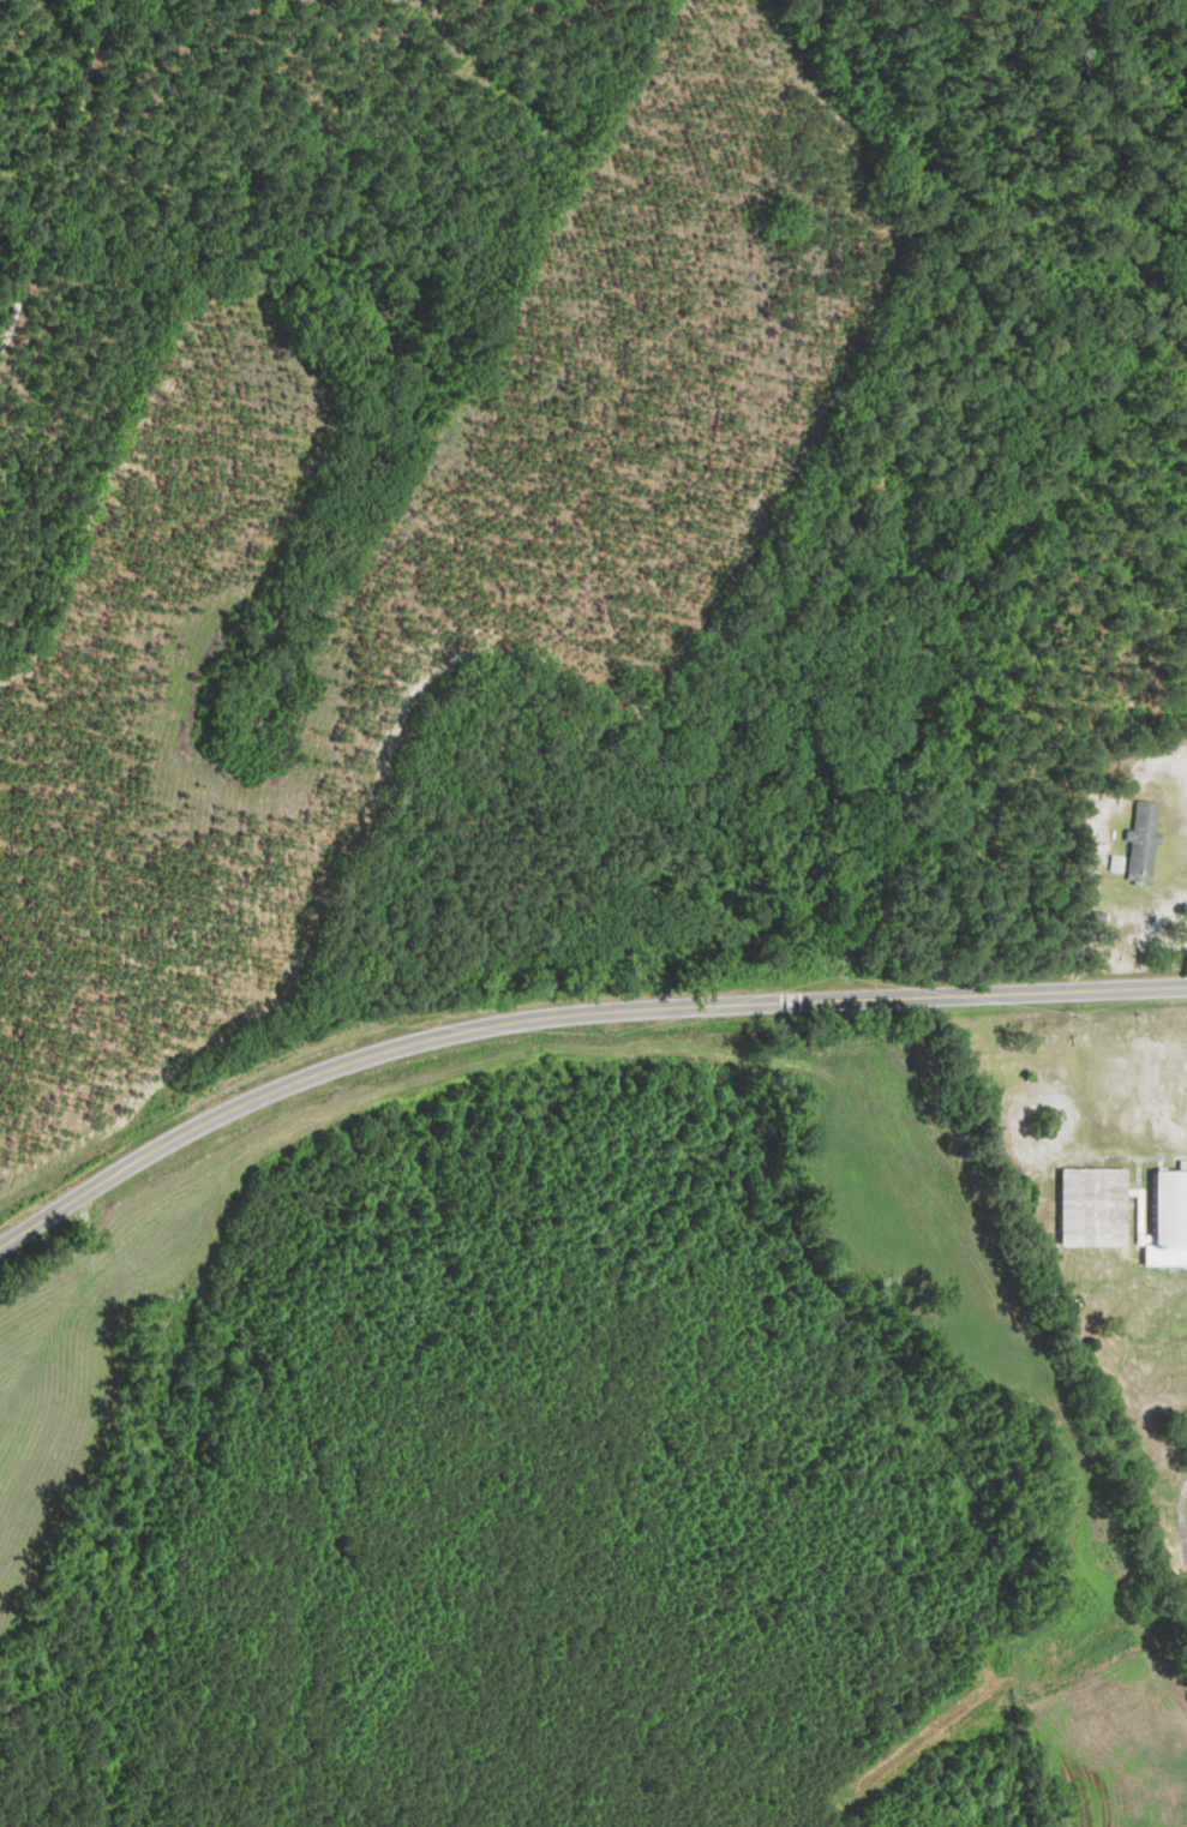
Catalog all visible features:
building: (1141, 841)
road: (566, 1014)
building: (1097, 1208)
building: (1171, 1221)

